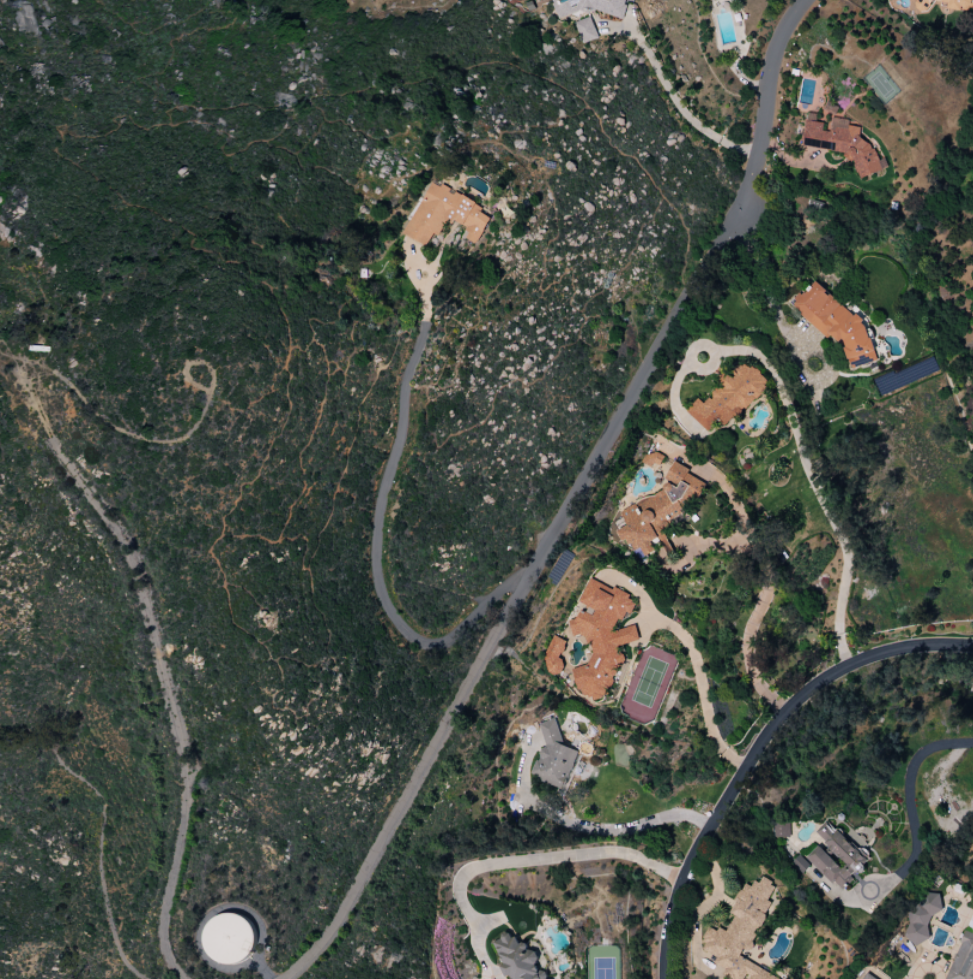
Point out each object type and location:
building: (733, 0)
building: (922, 3)
building: (957, 4)
building: (590, 7)
building: (585, 30)
road: (678, 106)
building: (841, 140)
building: (446, 214)
building: (835, 323)
road: (5, 362)
building: (728, 397)
road: (35, 403)
road: (815, 486)
road: (573, 501)
building: (657, 509)
road: (378, 530)
road: (764, 565)
building: (601, 637)
building: (553, 656)
road: (700, 691)
road: (171, 699)
road: (757, 747)
building: (554, 758)
road: (904, 795)
road: (588, 827)
building: (781, 829)
road: (520, 860)
building: (922, 917)
building: (741, 934)
building: (230, 939)
building: (963, 956)
building: (517, 959)
building: (867, 976)

